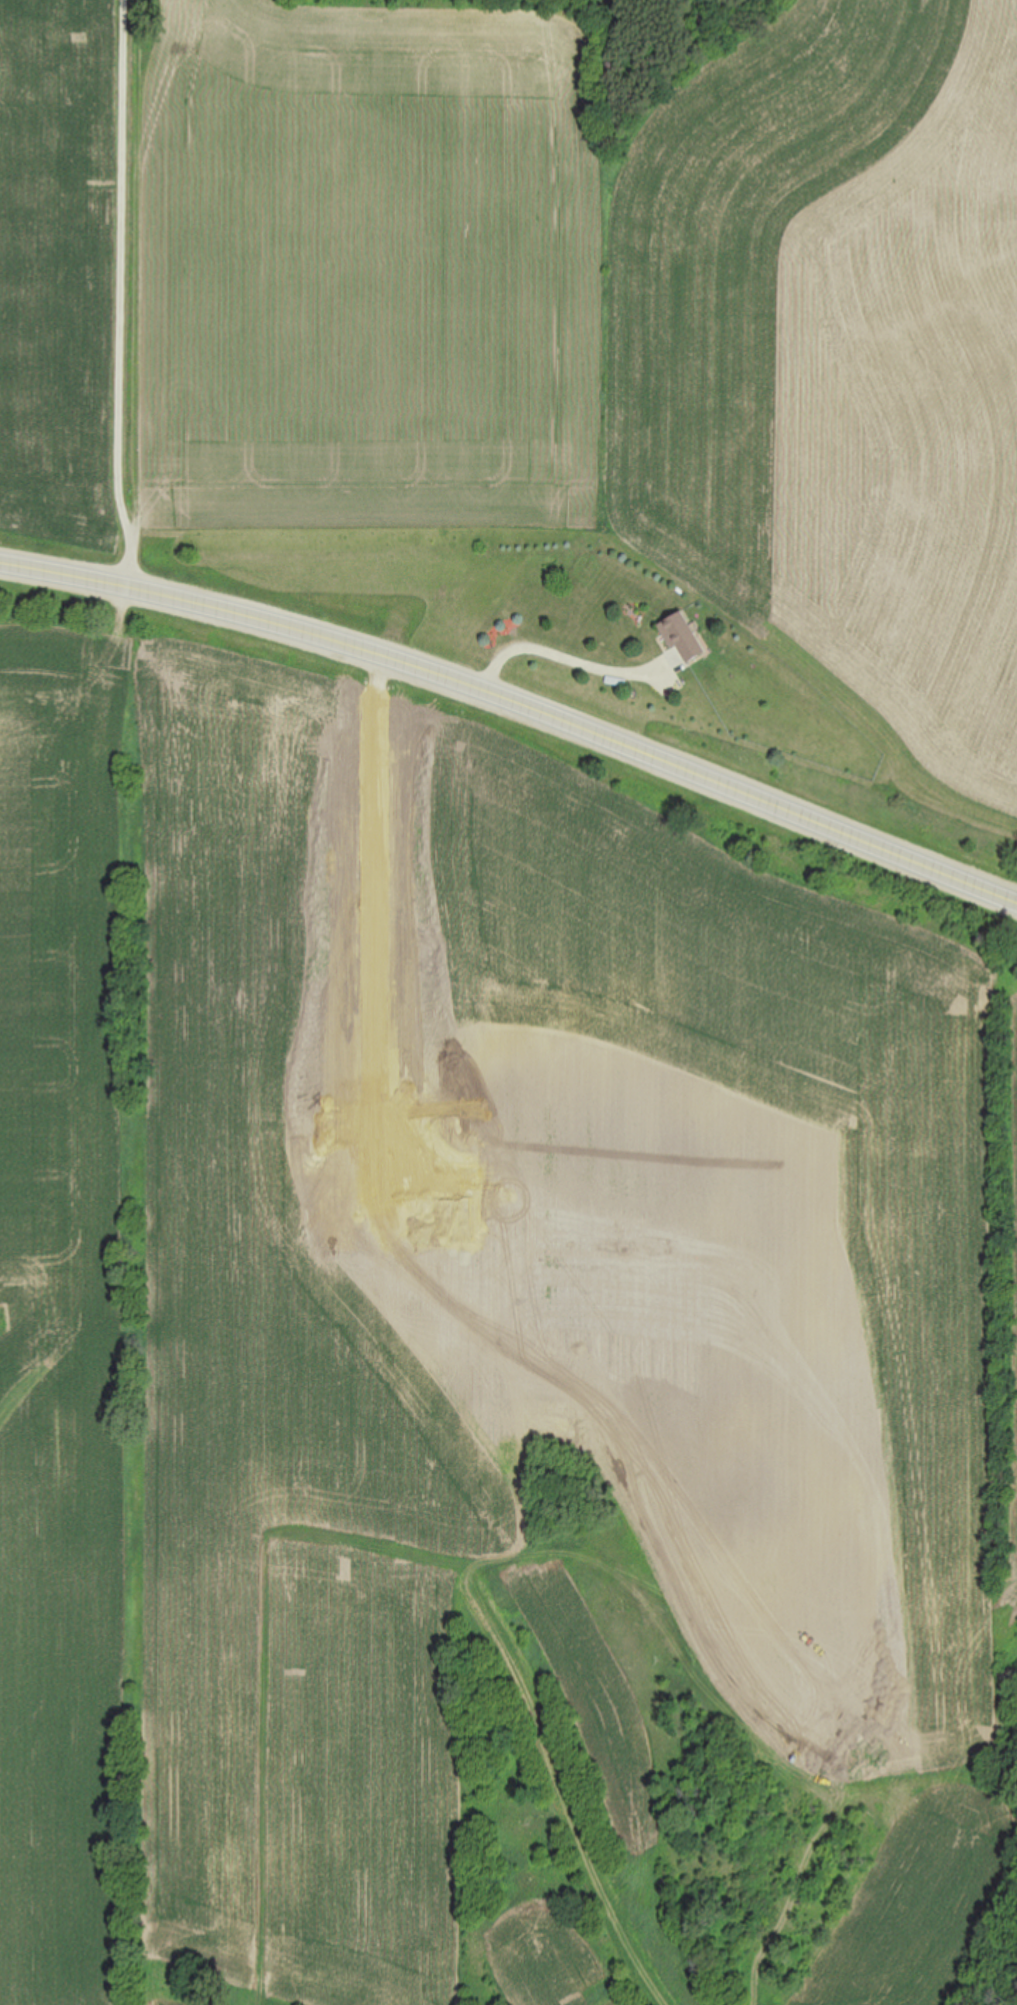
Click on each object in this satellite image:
road: (120, 296)
building: (680, 643)
road: (555, 658)
road: (518, 703)

